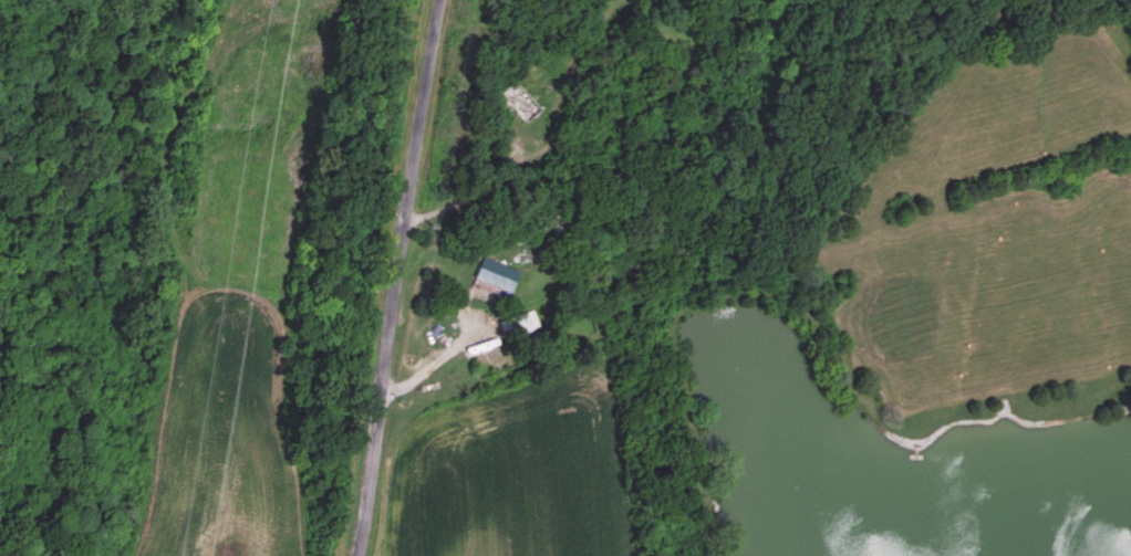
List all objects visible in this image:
building: (526, 103)
building: (501, 274)
road: (395, 277)
building: (517, 326)

